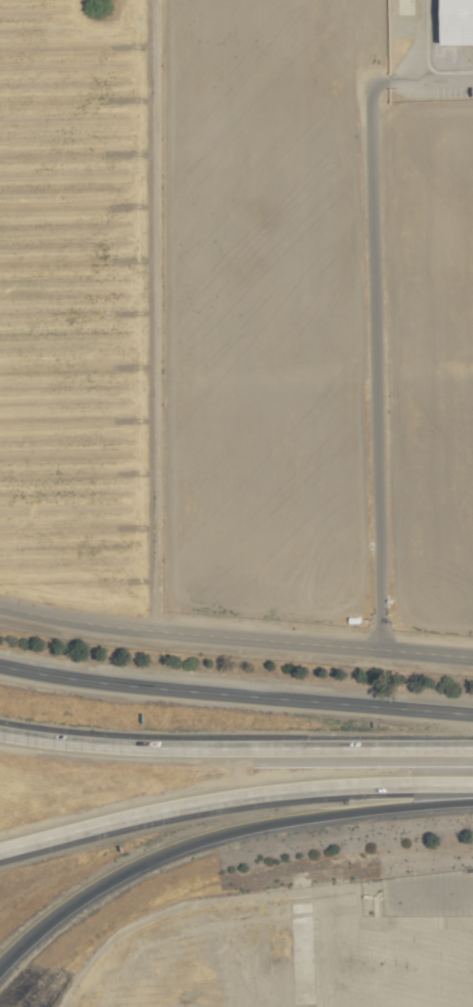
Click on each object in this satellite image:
building: (458, 22)
road: (423, 41)
road: (448, 80)
road: (374, 342)
road: (235, 638)
road: (206, 693)
road: (443, 713)
road: (236, 746)
road: (233, 798)
road: (218, 836)
road: (446, 883)
airport: (279, 955)

